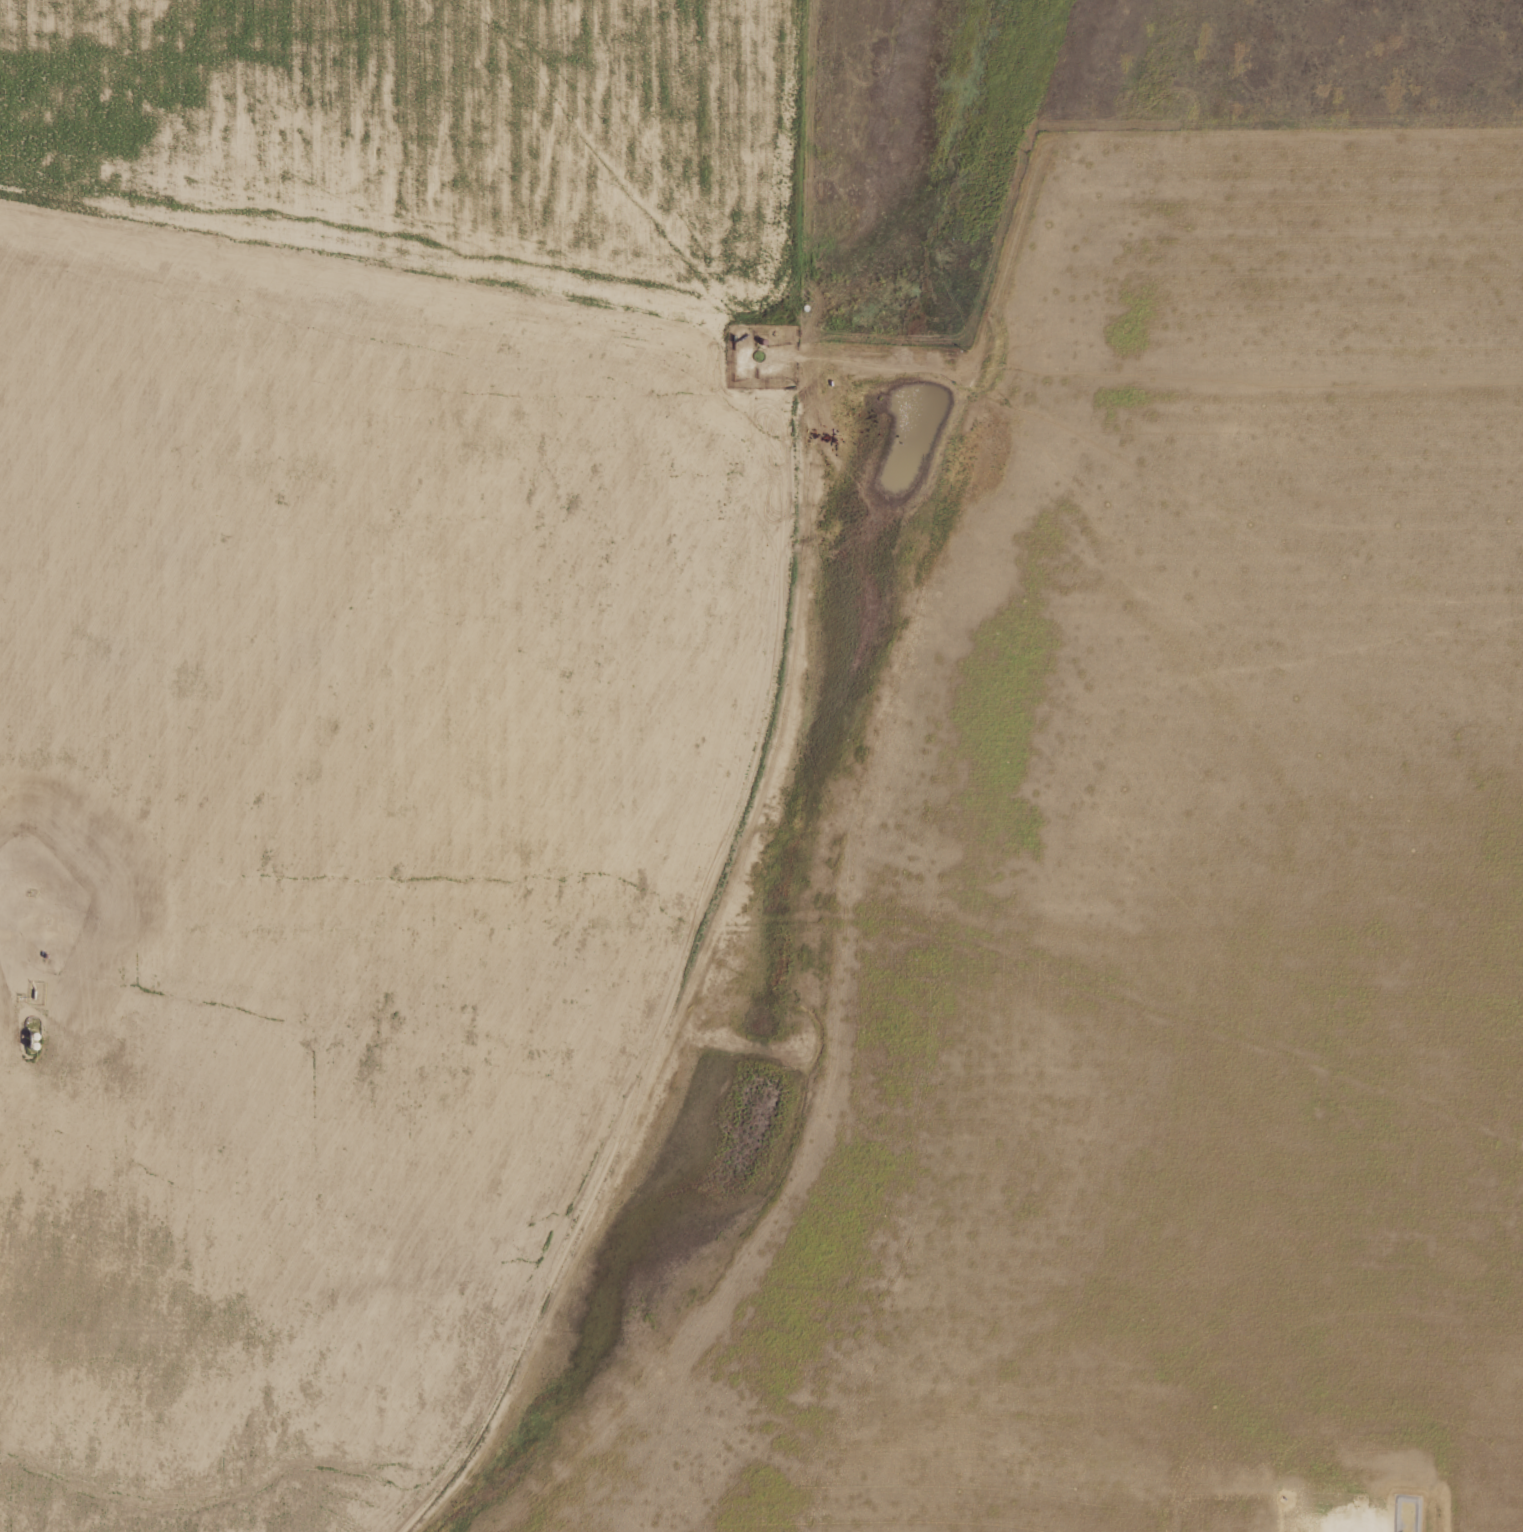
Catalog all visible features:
road: (1357, 1526)

